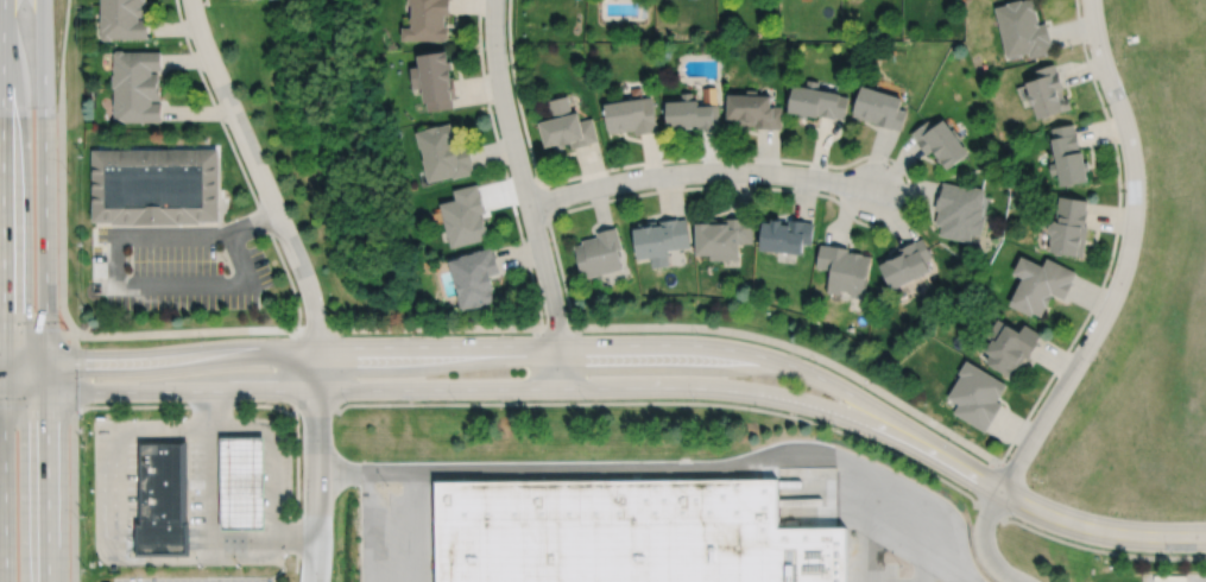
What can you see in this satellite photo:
road: (206, 1)
street lamp: (203, 4)
building: (121, 18)
building: (427, 19)
building: (1023, 27)
road: (43, 30)
street lamp: (1087, 51)
road: (62, 57)
building: (435, 78)
building: (134, 84)
building: (1047, 91)
building: (816, 100)
building: (879, 107)
building: (753, 109)
street lamp: (493, 110)
building: (690, 112)
building: (630, 115)
building: (564, 126)
street lamp: (228, 127)
building: (941, 140)
building: (443, 152)
building: (1066, 156)
street lamp: (890, 162)
road: (503, 164)
road: (533, 164)
street lamp: (611, 171)
street lamp: (69, 172)
road: (700, 172)
street lamp: (757, 183)
building: (153, 184)
road: (909, 189)
road: (267, 191)
street lamp: (1122, 192)
road: (525, 194)
road: (255, 201)
building: (959, 210)
building: (465, 215)
road: (254, 222)
road: (62, 226)
building: (1067, 227)
building: (785, 235)
building: (722, 236)
building: (659, 239)
street lamp: (526, 240)
building: (598, 253)
road: (1125, 258)
building: (907, 262)
parking lot: (177, 265)
road: (1107, 266)
building: (844, 268)
building: (475, 277)
road: (127, 284)
building: (1040, 285)
road: (2, 291)
road: (46, 321)
road: (561, 328)
road: (37, 331)
street lamp: (454, 333)
street lamp: (583, 333)
street lamp: (697, 333)
street lamp: (345, 334)
street lamp: (203, 337)
road: (520, 344)
street lamp: (1073, 344)
building: (1010, 346)
road: (1, 350)
traffic signals: (4, 352)
traffic signals: (48, 355)
street lamp: (816, 362)
road: (76, 373)
road: (2, 382)
traffic signals: (5, 384)
traffic signals: (48, 387)
road: (512, 387)
building: (977, 396)
street lamp: (585, 399)
street lamp: (694, 399)
street lamp: (346, 400)
street lamp: (455, 400)
street lamp: (179, 401)
road: (655, 401)
road: (38, 411)
street lamp: (835, 425)
street lamp: (949, 438)
street lamp: (1006, 458)
road: (677, 469)
building: (162, 481)
building: (242, 483)
road: (317, 486)
road: (297, 491)
road: (74, 496)
road: (855, 498)
street lamp: (1014, 517)
road: (210, 520)
road: (367, 526)
road: (413, 526)
road: (1099, 530)
building: (626, 532)
parking lot: (399, 533)
building: (162, 539)
road: (984, 540)
road: (921, 552)
street lamp: (1172, 553)
road: (871, 559)
parking lot: (882, 565)
road: (921, 567)
street lamp: (1199, 572)

